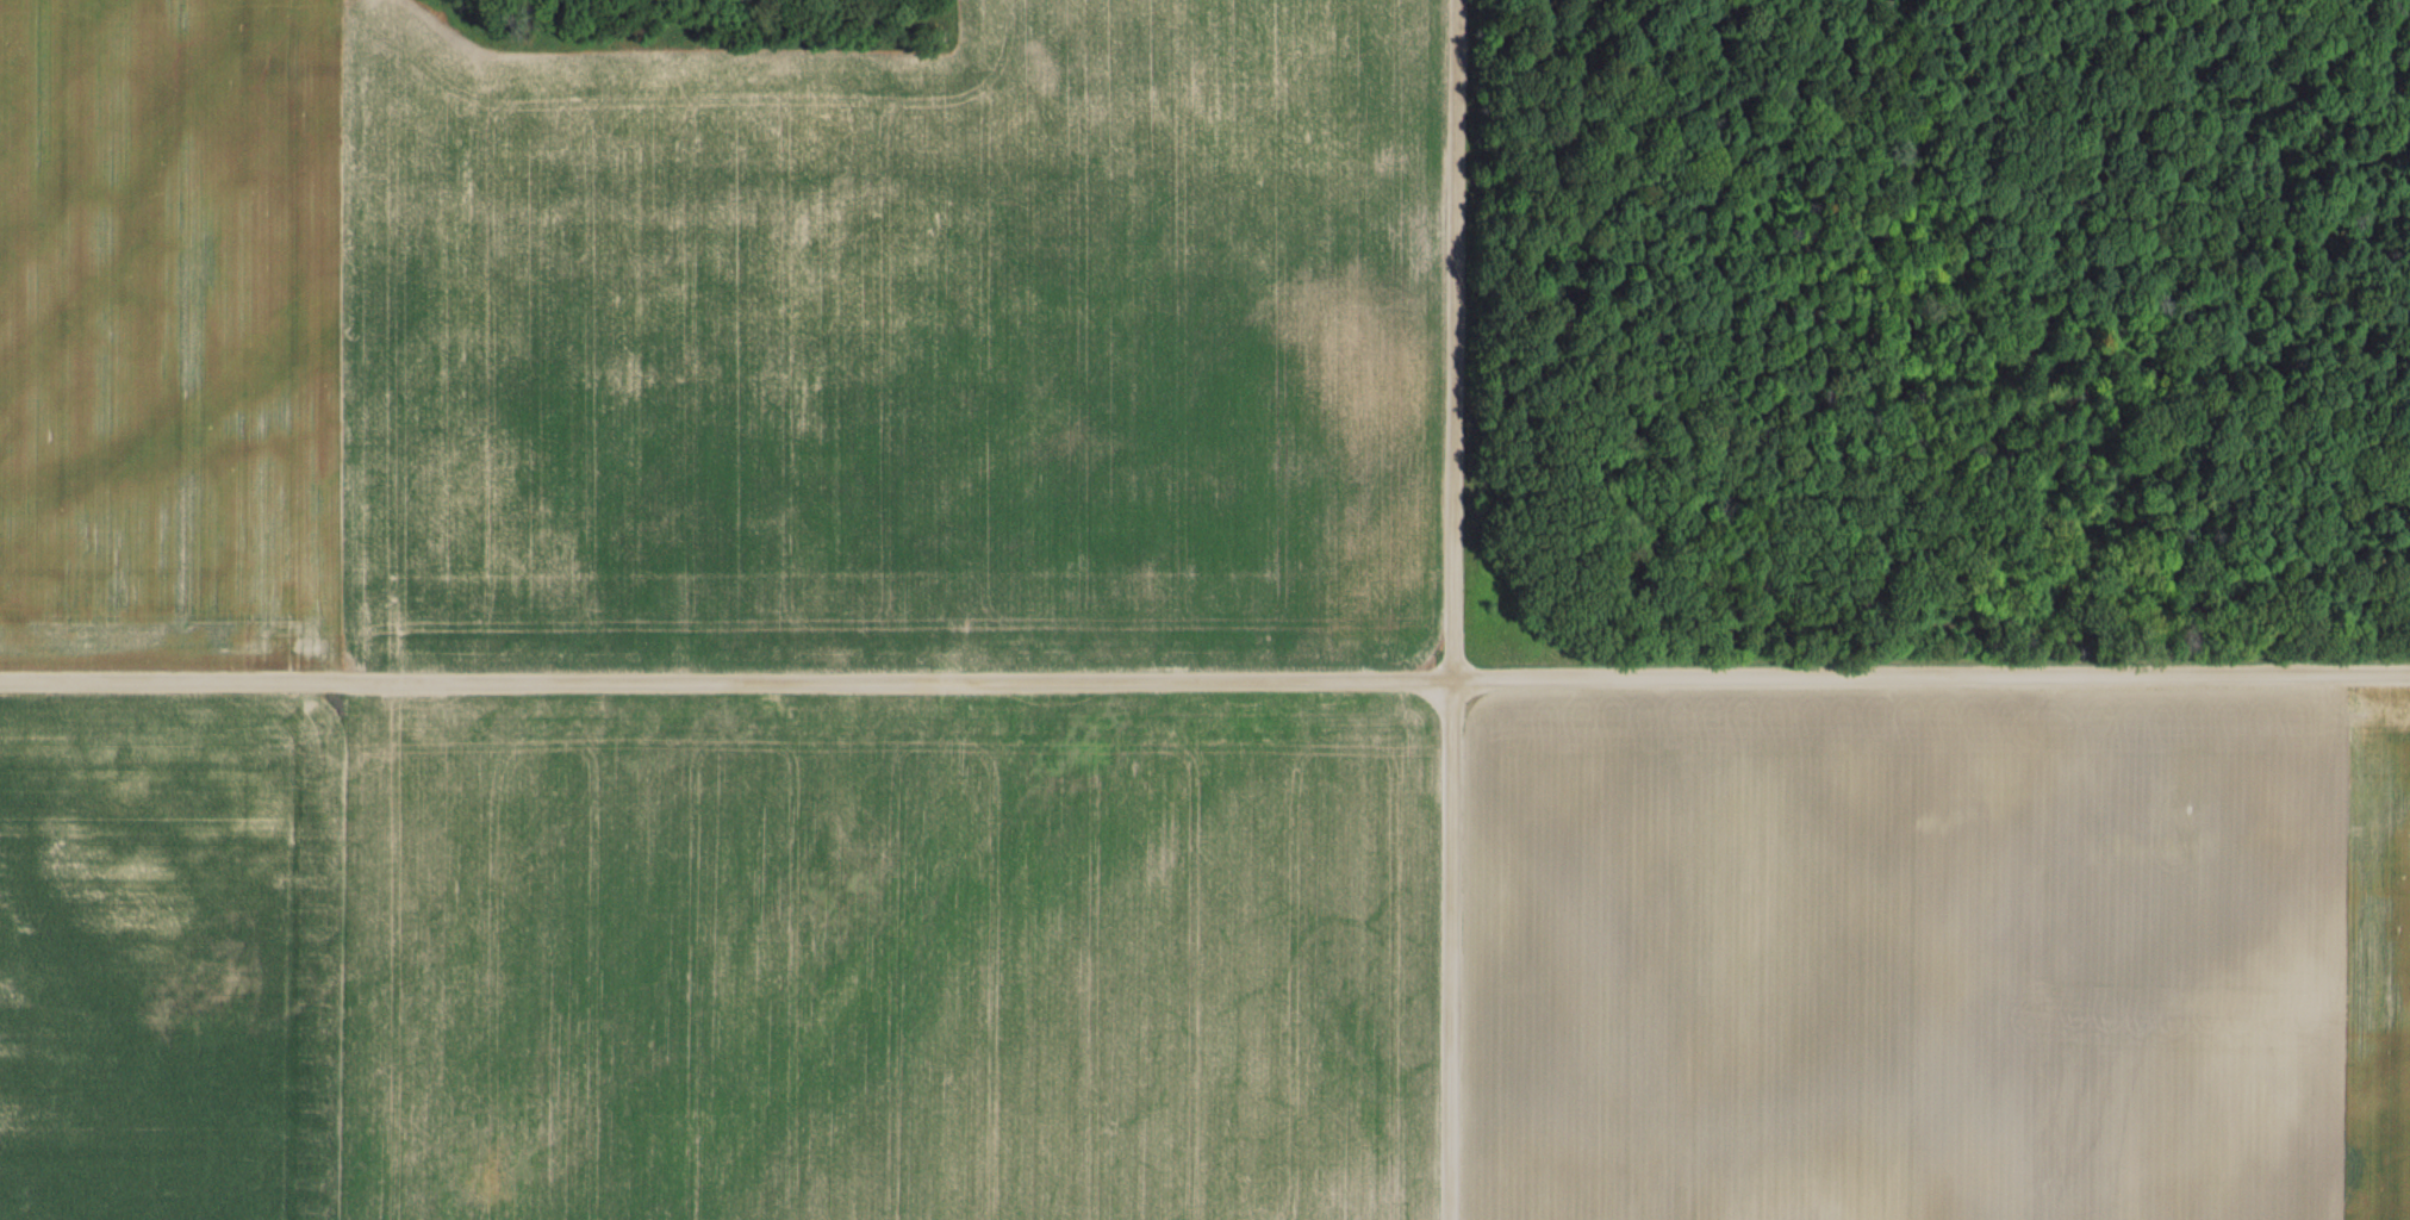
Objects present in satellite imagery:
road: (1456, 609)
road: (1204, 681)

